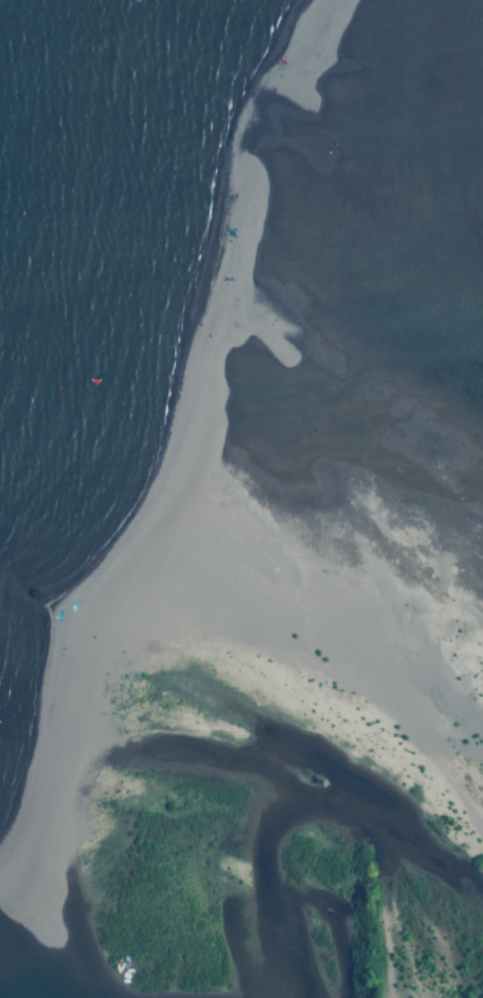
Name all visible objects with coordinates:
lighthouse: (324, 781)
park: (360, 925)

